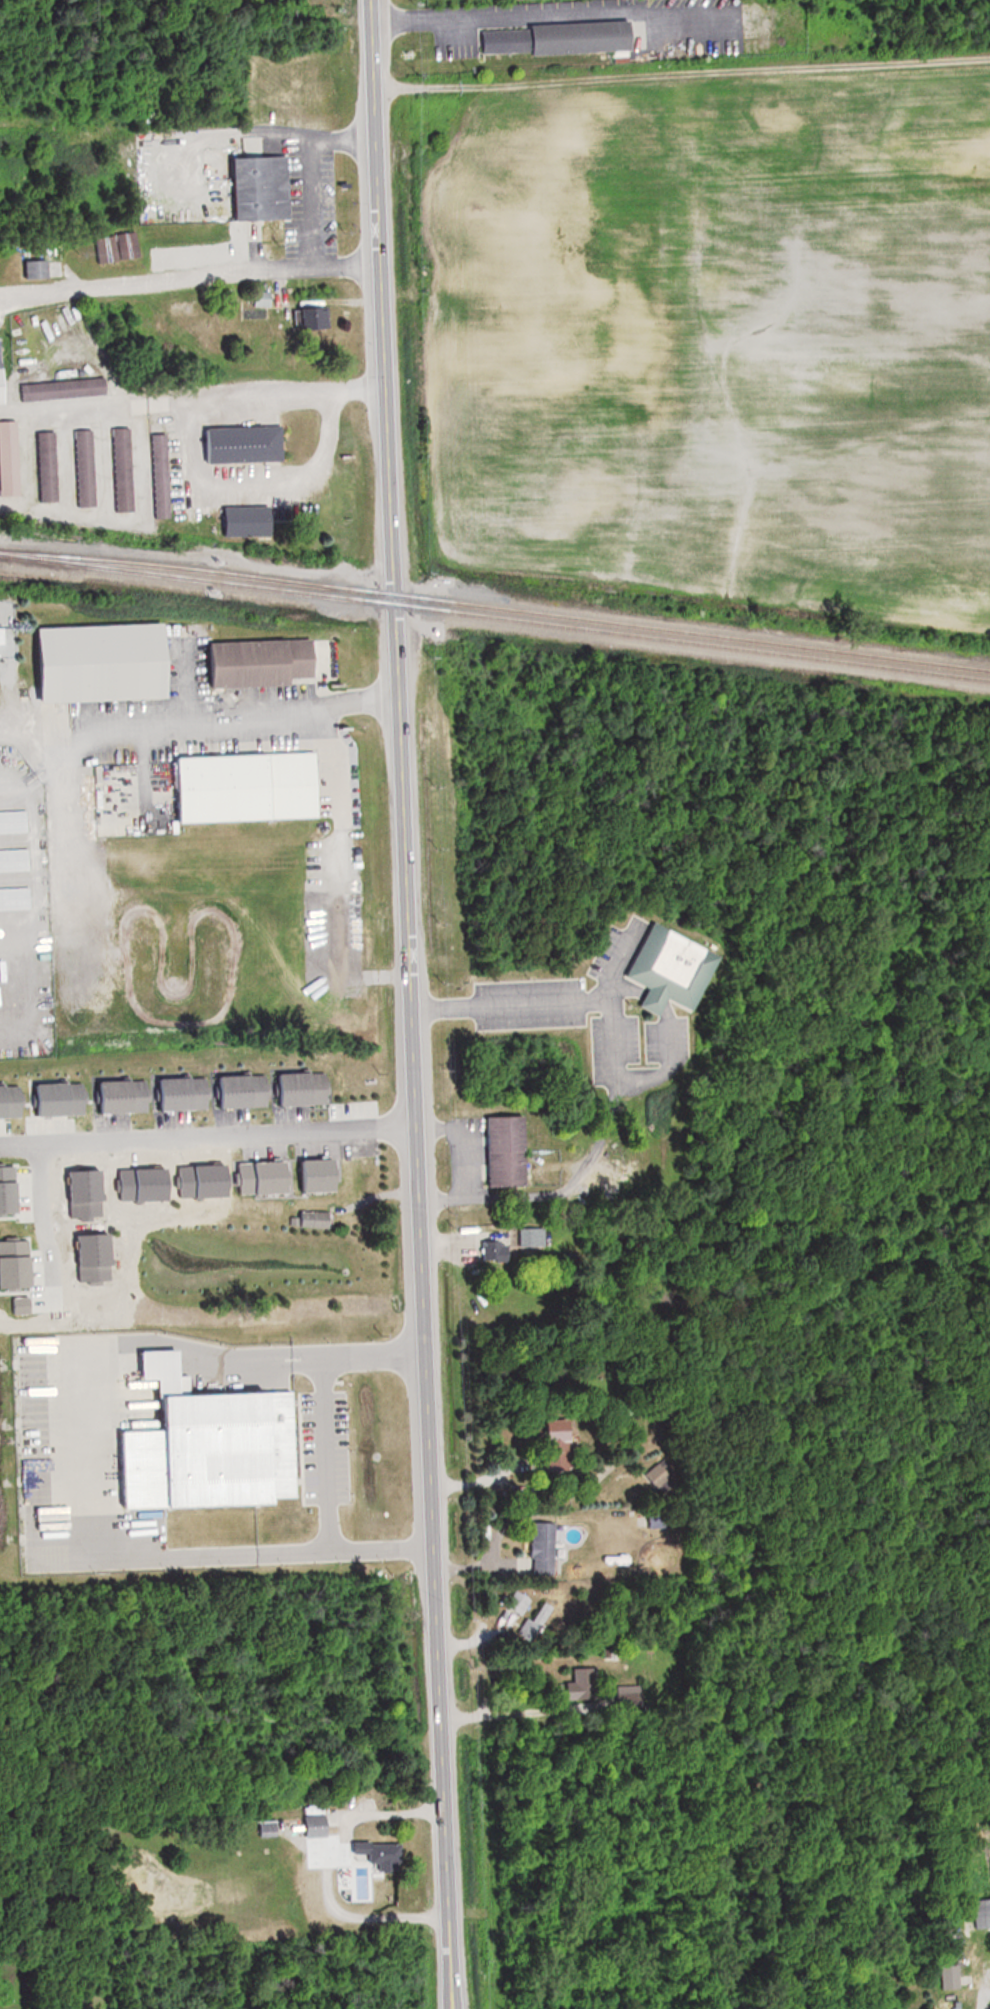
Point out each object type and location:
road: (545, 11)
building: (562, 37)
road: (307, 169)
building: (266, 187)
building: (520, 197)
building: (43, 264)
road: (189, 274)
building: (320, 317)
building: (4, 374)
building: (66, 388)
building: (247, 444)
road: (193, 453)
building: (11, 458)
building: (50, 467)
building: (88, 468)
building: (126, 470)
building: (164, 476)
building: (247, 522)
railway: (495, 608)
railway: (495, 618)
building: (107, 662)
building: (263, 662)
road: (217, 713)
building: (253, 787)
building: (14, 822)
building: (15, 861)
road: (334, 874)
building: (15, 899)
building: (670, 969)
road: (637, 992)
road: (654, 1000)
road: (408, 1004)
road: (521, 1005)
road: (668, 1045)
park: (858, 1053)
road: (618, 1055)
building: (306, 1089)
building: (246, 1091)
building: (188, 1094)
building: (127, 1096)
building: (63, 1099)
building: (12, 1101)
road: (206, 1134)
building: (508, 1151)
road: (462, 1168)
road: (573, 1184)
road: (41, 1210)
building: (318, 1219)
building: (561, 1431)
building: (211, 1446)
road: (325, 1454)
building: (544, 1548)
building: (519, 1602)
building: (538, 1621)
road: (516, 1714)
building: (319, 1824)
building: (271, 1826)
road: (341, 1855)
building: (979, 1913)
building: (944, 1977)
building: (985, 1983)

